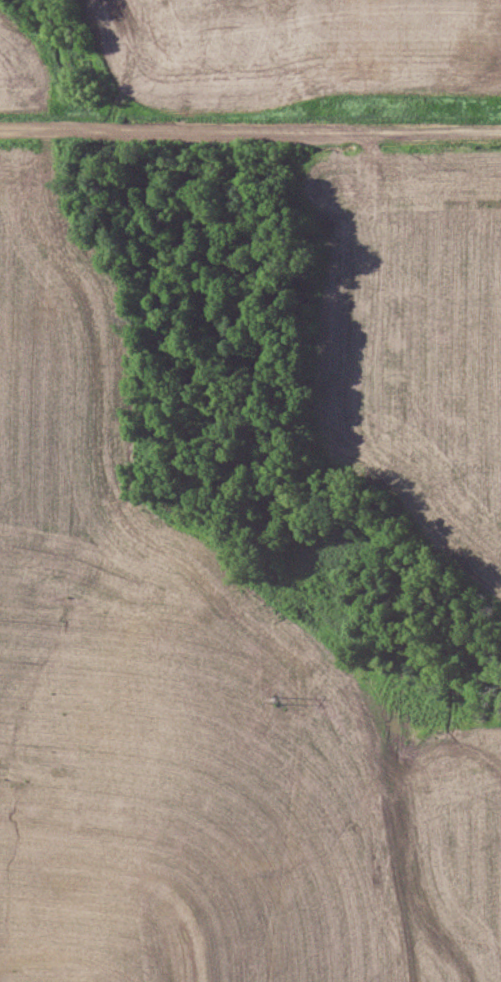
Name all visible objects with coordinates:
road: (250, 129)

